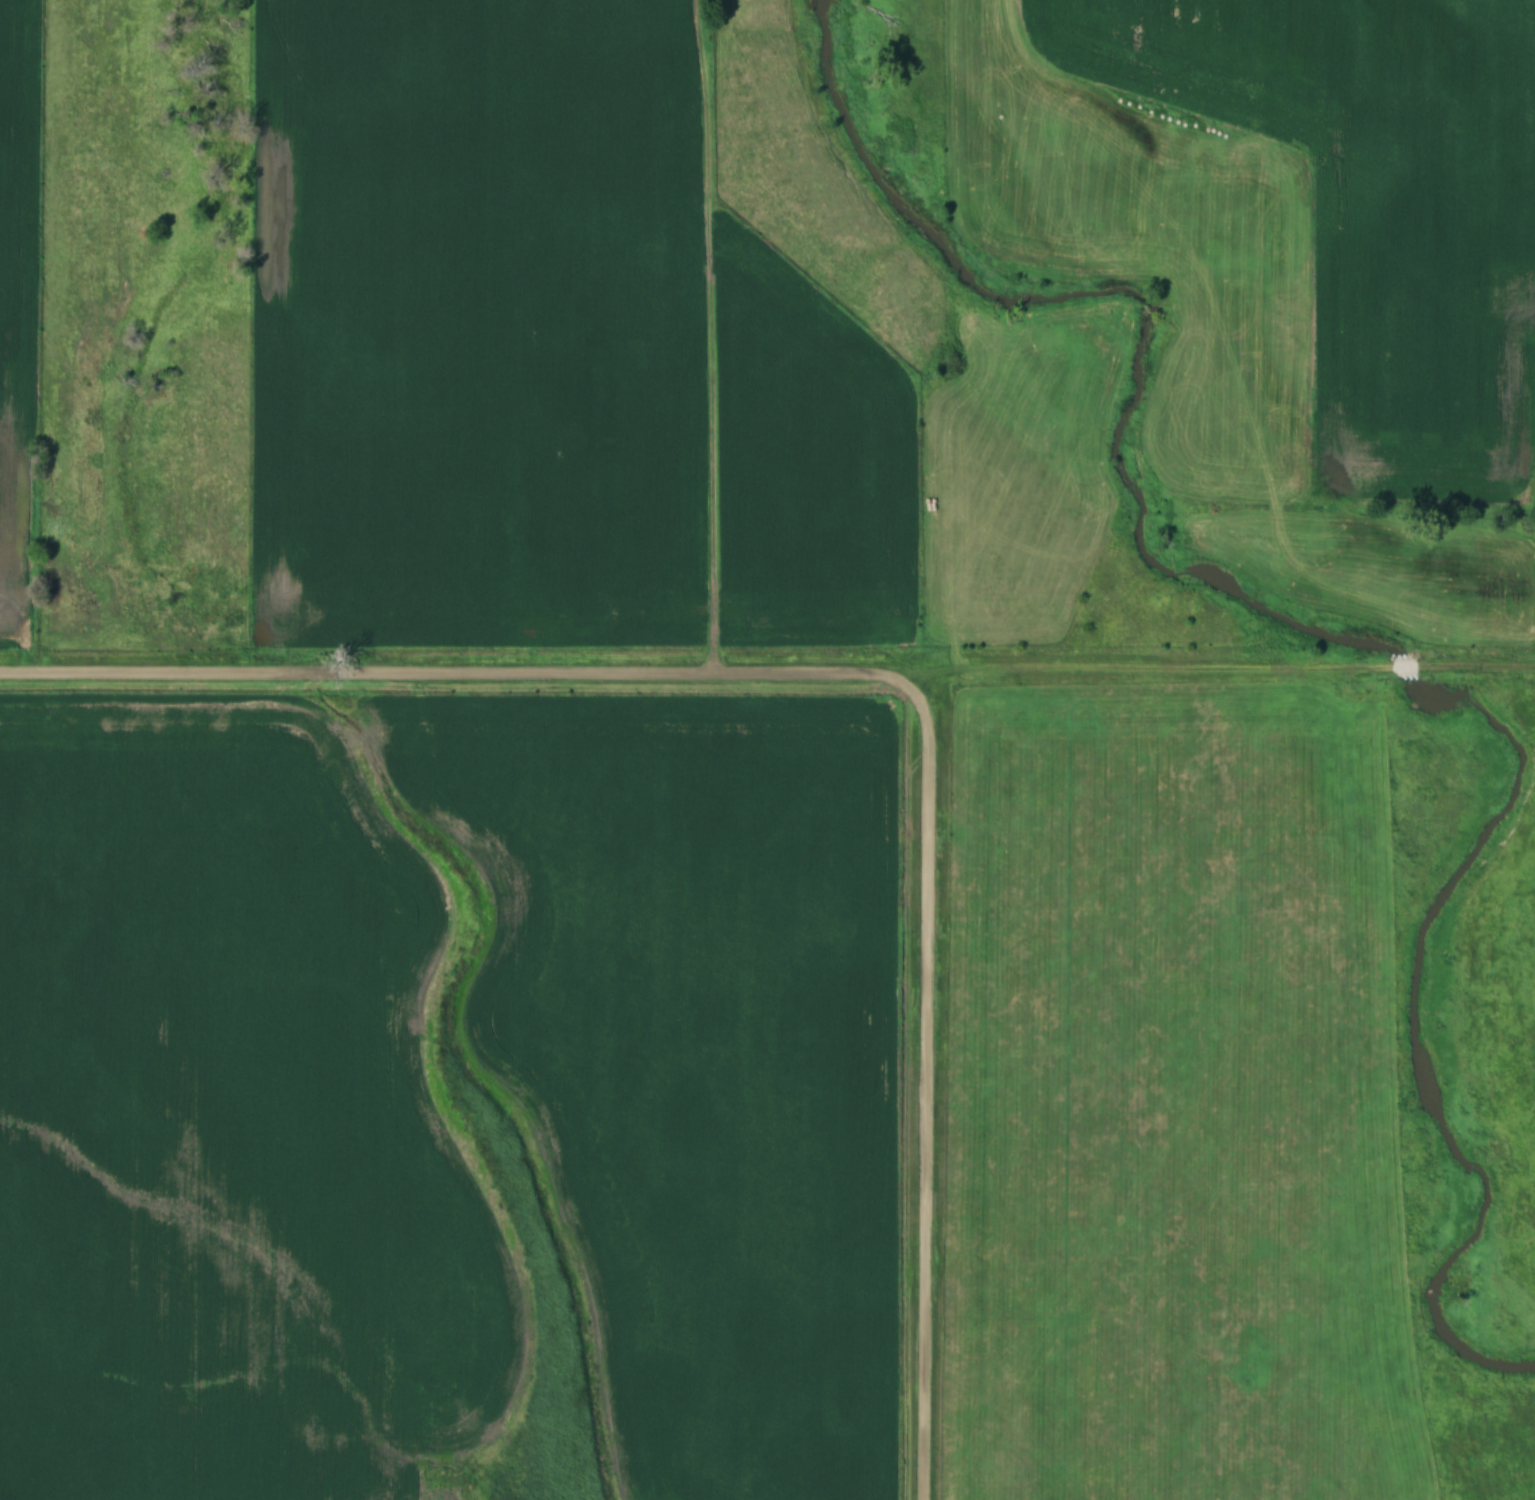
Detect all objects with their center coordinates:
road: (712, 335)
road: (1214, 669)
road: (447, 672)
road: (924, 1081)

